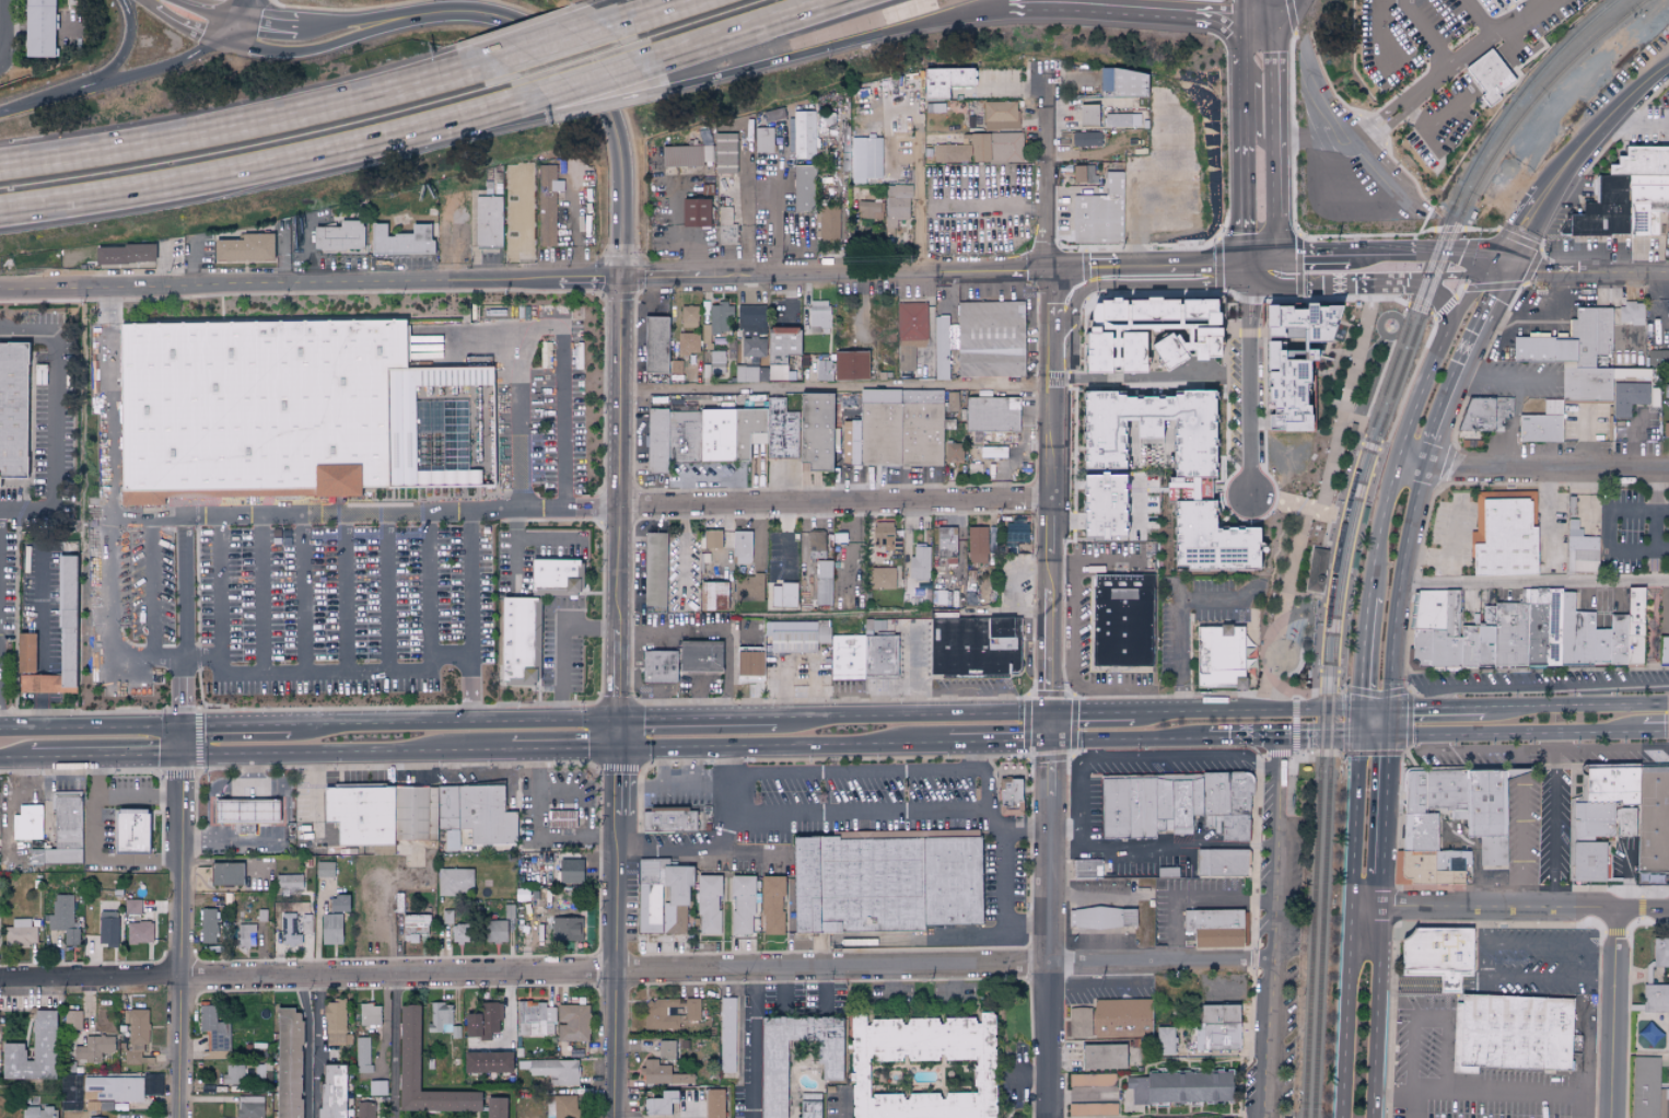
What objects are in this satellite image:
building: (1506, 2)
road: (145, 4)
road: (1260, 9)
road: (1272, 9)
road: (1061, 11)
road: (1215, 11)
road: (208, 12)
road: (245, 12)
road: (621, 13)
road: (635, 13)
road: (1148, 15)
road: (1480, 16)
road: (1524, 16)
road: (1214, 22)
road: (366, 24)
road: (2, 28)
building: (50, 28)
road: (269, 28)
road: (1252, 28)
road: (190, 30)
road: (1379, 33)
road: (1425, 33)
road: (235, 34)
road: (746, 34)
road: (544, 43)
road: (334, 47)
road: (830, 49)
road: (1245, 60)
parking lot: (1624, 75)
building: (1489, 77)
road: (141, 78)
building: (944, 81)
road: (592, 82)
road: (96, 83)
building: (1123, 83)
road: (602, 91)
road: (1002, 92)
road: (1420, 94)
road: (1245, 96)
road: (606, 104)
building: (933, 107)
building: (1000, 115)
building: (1087, 115)
road: (1613, 115)
road: (1660, 118)
road: (1263, 119)
building: (1120, 120)
road: (250, 124)
road: (1629, 125)
road: (1660, 125)
railway: (1497, 126)
road: (1423, 127)
road: (1280, 128)
building: (803, 135)
road: (1310, 136)
building: (1085, 139)
building: (763, 140)
road: (1342, 147)
building: (982, 149)
building: (724, 153)
building: (686, 155)
building: (865, 159)
road: (273, 162)
road: (278, 170)
road: (1042, 171)
building: (1083, 174)
building: (802, 189)
road: (1247, 189)
road: (1547, 190)
road: (921, 194)
building: (1625, 196)
building: (548, 205)
building: (896, 206)
building: (869, 210)
building: (695, 213)
building: (1099, 214)
road: (775, 216)
road: (1539, 218)
building: (488, 222)
building: (829, 223)
road: (1508, 235)
building: (338, 237)
building: (400, 241)
building: (243, 248)
road: (310, 252)
road: (1444, 252)
road: (574, 254)
road: (692, 254)
road: (1375, 254)
building: (122, 255)
road: (1267, 256)
road: (1317, 257)
road: (1502, 261)
road: (192, 264)
road: (1542, 268)
road: (1145, 270)
road: (1621, 272)
road: (1506, 273)
road: (1461, 277)
road: (1263, 282)
road: (521, 283)
road: (1354, 283)
road: (653, 298)
road: (1463, 311)
building: (1631, 313)
building: (688, 316)
building: (818, 316)
building: (1298, 316)
building: (720, 317)
building: (750, 317)
road: (1447, 318)
building: (912, 323)
road: (1549, 326)
building: (1184, 335)
building: (991, 341)
road: (518, 342)
building: (688, 342)
building: (654, 343)
building: (751, 347)
building: (942, 350)
building: (1575, 353)
railway: (1408, 356)
building: (1658, 357)
building: (1602, 360)
building: (717, 361)
road: (1464, 364)
building: (852, 368)
building: (822, 370)
building: (451, 374)
road: (1507, 376)
road: (1127, 377)
building: (1284, 384)
road: (832, 389)
building: (1666, 391)
road: (1249, 396)
building: (1653, 396)
building: (1627, 397)
building: (264, 410)
building: (15, 411)
building: (1485, 412)
building: (993, 417)
road: (54, 420)
road: (1513, 423)
building: (1542, 423)
building: (903, 432)
building: (785, 433)
building: (820, 434)
building: (734, 435)
road: (1587, 438)
road: (1633, 440)
building: (675, 441)
building: (429, 452)
building: (953, 452)
building: (993, 452)
railway: (1382, 458)
road: (1531, 469)
road: (1003, 476)
road: (712, 477)
road: (1393, 477)
building: (1184, 487)
road: (1042, 494)
road: (831, 505)
road: (1294, 506)
road: (1315, 506)
road: (256, 516)
railway: (1342, 525)
road: (1654, 526)
building: (1111, 528)
road: (1611, 532)
building: (1504, 534)
building: (885, 536)
building: (711, 538)
road: (552, 539)
road: (786, 543)
building: (816, 544)
building: (945, 544)
building: (977, 544)
building: (742, 547)
building: (1580, 549)
road: (1451, 551)
road: (1110, 561)
road: (1058, 562)
building: (919, 564)
building: (654, 569)
building: (1315, 569)
road: (684, 571)
building: (553, 577)
building: (882, 578)
road: (1016, 579)
building: (822, 582)
road: (1536, 582)
building: (748, 587)
road: (40, 590)
road: (152, 590)
road: (1401, 590)
road: (386, 593)
road: (303, 594)
road: (346, 594)
building: (782, 594)
road: (262, 595)
building: (713, 595)
parking lot: (294, 612)
road: (987, 614)
road: (470, 617)
road: (1181, 620)
road: (187, 622)
building: (1123, 622)
road: (1074, 625)
building: (874, 626)
building: (1526, 631)
road: (672, 636)
building: (58, 637)
road: (745, 638)
road: (561, 642)
building: (974, 648)
building: (1664, 649)
road: (451, 654)
road: (1363, 654)
building: (699, 655)
building: (863, 656)
road: (203, 657)
building: (1221, 657)
railway: (1311, 659)
road: (800, 660)
building: (748, 662)
building: (657, 665)
building: (31, 668)
road: (915, 669)
road: (326, 673)
road: (731, 675)
road: (1109, 688)
road: (1539, 688)
road: (971, 690)
road: (697, 697)
road: (1592, 697)
road: (619, 699)
road: (656, 701)
road: (1146, 701)
road: (1576, 707)
road: (1435, 709)
traffic signals: (1362, 711)
traffic signals: (1388, 711)
road: (1260, 713)
road: (1087, 714)
road: (1025, 715)
road: (891, 718)
road: (696, 720)
traffic signals: (619, 721)
road: (454, 723)
road: (236, 726)
road: (92, 727)
traffic signals: (184, 727)
road: (1041, 729)
road: (1656, 732)
road: (1501, 734)
traffic signals: (1388, 737)
traffic signals: (1359, 738)
road: (1319, 739)
road: (1244, 741)
road: (1148, 742)
road: (994, 743)
road: (1065, 743)
road: (783, 746)
road: (1543, 748)
road: (1090, 749)
road: (565, 750)
traffic signals: (619, 750)
road: (348, 755)
road: (1186, 755)
road: (972, 757)
traffic signals: (184, 758)
road: (107, 759)
road: (15, 761)
road: (1041, 761)
road: (661, 768)
road: (1065, 768)
road: (873, 771)
road: (672, 785)
building: (1011, 795)
road: (140, 797)
road: (1385, 803)
road: (536, 804)
building: (1174, 804)
road: (1041, 807)
building: (1626, 810)
building: (415, 813)
road: (859, 815)
building: (560, 818)
building: (669, 819)
building: (26, 822)
road: (1552, 822)
road: (997, 823)
building: (1483, 827)
road: (1521, 829)
building: (63, 830)
building: (129, 830)
road: (1023, 835)
road: (1059, 847)
road: (1143, 847)
road: (722, 850)
road: (757, 851)
road: (1274, 851)
road: (96, 854)
building: (1221, 862)
building: (324, 869)
building: (1086, 869)
building: (569, 871)
building: (224, 873)
road: (1624, 880)
building: (455, 881)
building: (289, 882)
building: (888, 884)
building: (662, 896)
road: (1040, 900)
road: (1005, 901)
building: (337, 902)
road: (1194, 902)
building: (742, 904)
building: (708, 905)
building: (771, 905)
building: (132, 907)
road: (1510, 910)
road: (1351, 913)
building: (1102, 917)
building: (62, 918)
road: (182, 922)
building: (306, 923)
building: (208, 924)
building: (415, 927)
building: (1213, 927)
building: (107, 928)
building: (330, 929)
building: (567, 929)
road: (1482, 929)
building: (289, 930)
building: (495, 931)
building: (20, 932)
building: (139, 932)
building: (458, 933)
building: (245, 934)
road: (1548, 946)
railway: (1312, 950)
railway: (1321, 950)
building: (1659, 952)
building: (1437, 954)
road: (1154, 963)
road: (520, 975)
road: (1532, 979)
road: (1471, 981)
road: (1409, 982)
road: (955, 985)
road: (891, 987)
road: (1095, 988)
road: (784, 991)
road: (828, 992)
road: (1376, 993)
building: (1655, 998)
building: (655, 1011)
building: (369, 1014)
road: (1613, 1014)
building: (440, 1017)
building: (1121, 1017)
building: (535, 1018)
building: (72, 1020)
building: (482, 1021)
building: (335, 1022)
building: (572, 1022)
building: (1217, 1027)
building: (212, 1028)
building: (1509, 1033)
building: (726, 1035)
building: (138, 1037)
building: (1163, 1040)
road: (1267, 1040)
road: (1040, 1041)
building: (1667, 1043)
road: (751, 1045)
road: (308, 1047)
road: (396, 1047)
building: (93, 1048)
road: (318, 1048)
building: (407, 1048)
building: (664, 1049)
building: (32, 1051)
building: (362, 1055)
building: (1102, 1056)
building: (486, 1062)
building: (288, 1063)
building: (921, 1067)
road: (1446, 1069)
building: (556, 1071)
building: (772, 1072)
building: (662, 1073)
building: (233, 1074)
road: (1022, 1078)
building: (1092, 1080)
building: (152, 1084)
building: (1179, 1086)
building: (114, 1088)
building: (1646, 1088)
building: (331, 1091)
road: (1428, 1092)
road: (1391, 1100)
building: (658, 1103)
building: (713, 1103)
building: (832, 1104)
building: (808, 1105)
building: (70, 1106)
building: (561, 1106)
building: (495, 1107)
road: (1577, 1107)
building: (1092, 1108)
building: (364, 1109)
building: (38, 1111)
building: (95, 1117)
road: (844, 1117)

